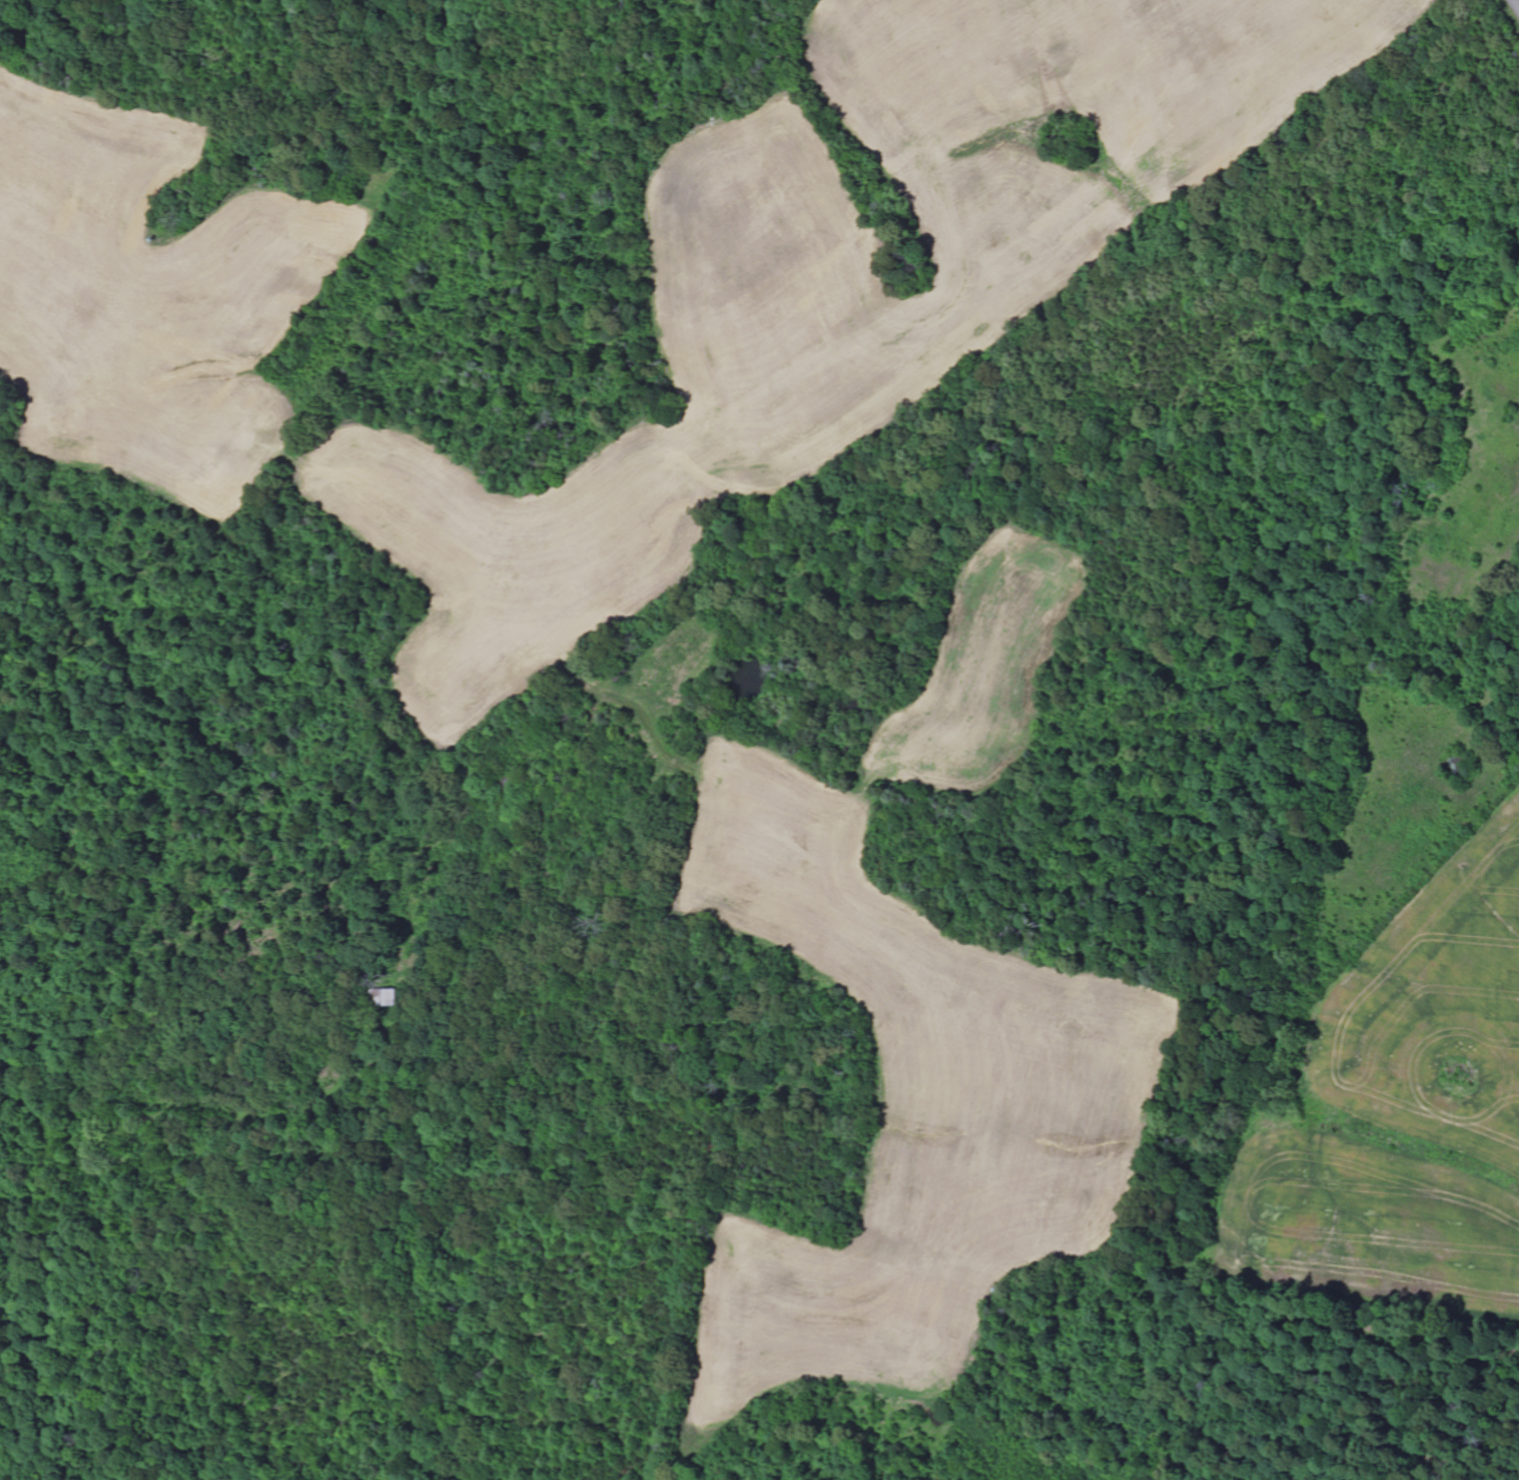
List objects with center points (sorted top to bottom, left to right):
road: (1517, 2)

